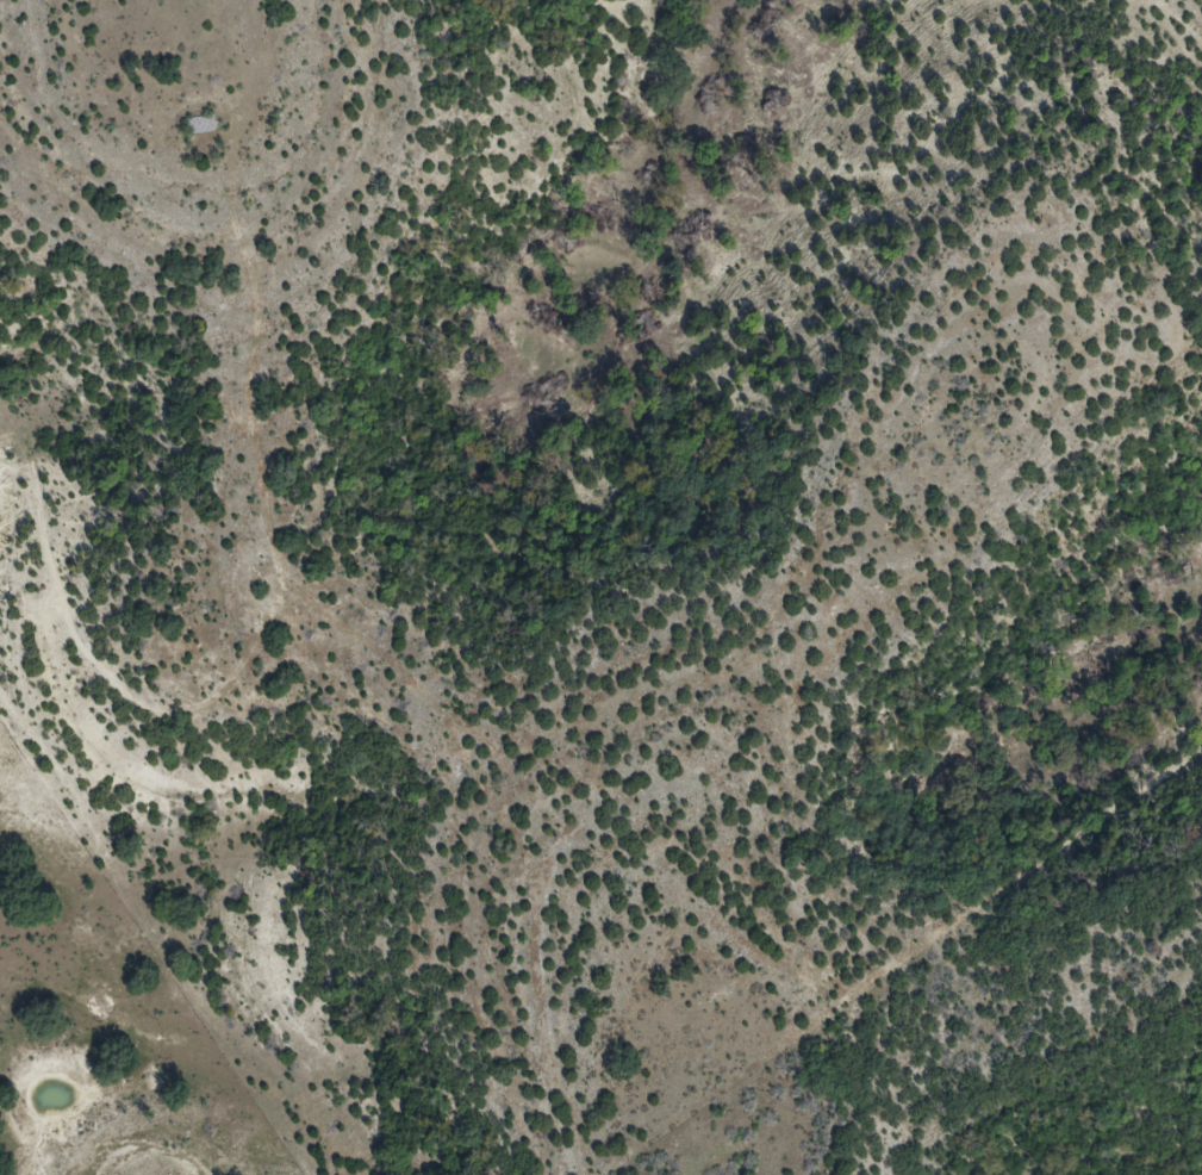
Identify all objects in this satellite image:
building: (201, 125)
road: (241, 466)

